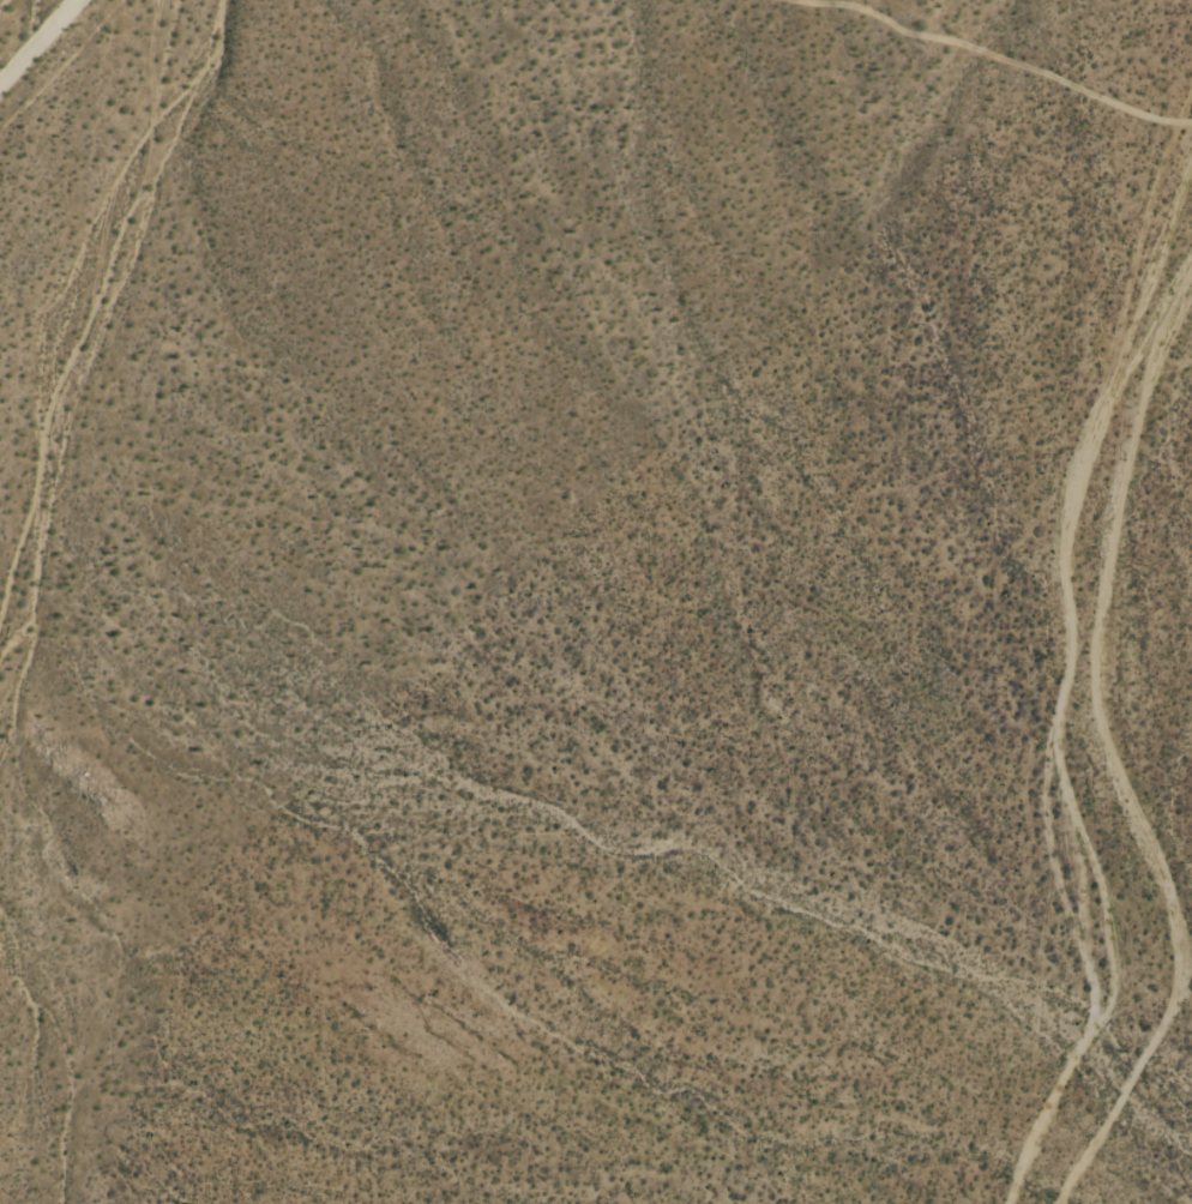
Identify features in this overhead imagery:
road: (32, 34)
road: (1144, 730)

